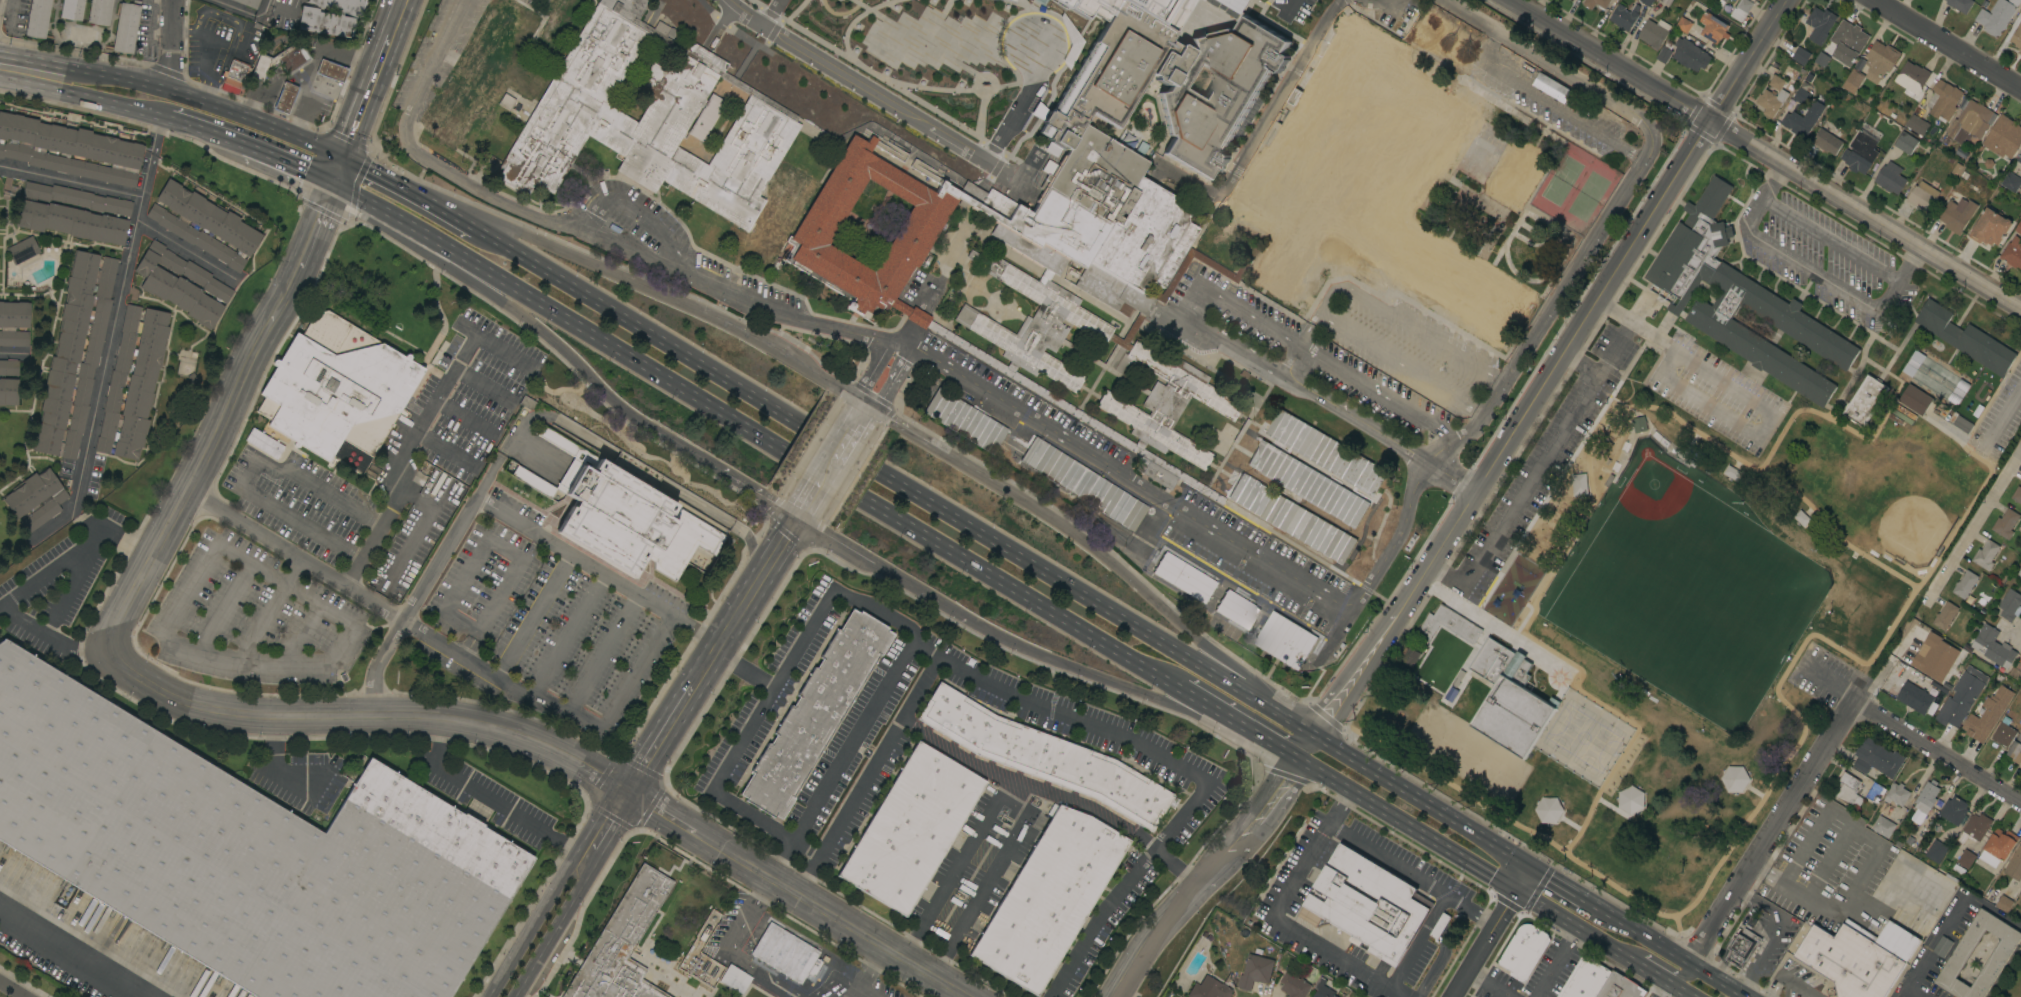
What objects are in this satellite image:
building: (1011, 0)
road: (1380, 0)
building: (1646, 2)
building: (1666, 2)
building: (1721, 2)
building: (249, 3)
building: (1596, 3)
building: (1235, 4)
building: (1960, 5)
building: (1090, 7)
building: (72, 9)
building: (1741, 10)
road: (244, 11)
building: (1157, 11)
building: (100, 12)
road: (747, 12)
road: (773, 12)
road: (400, 13)
building: (561, 13)
building: (1383, 16)
building: (1624, 16)
building: (1996, 16)
parking lot: (14, 17)
building: (330, 17)
building: (38, 18)
road: (721, 24)
building: (1683, 24)
building: (1819, 24)
building: (126, 27)
building: (1713, 27)
parking lot: (146, 31)
building: (1653, 33)
building: (2016, 38)
building: (1442, 39)
parking lot: (210, 41)
building: (1848, 42)
road: (1948, 43)
road: (176, 47)
building: (793, 52)
building: (1664, 52)
building: (1690, 54)
building: (1800, 55)
building: (291, 57)
building: (1881, 58)
building: (1822, 59)
building: (963, 61)
building: (261, 67)
road: (430, 67)
road: (1552, 67)
building: (329, 69)
road: (27, 72)
building: (234, 75)
gas station: (298, 76)
building: (1911, 78)
building: (1852, 80)
building: (1776, 82)
road: (369, 91)
road: (1532, 93)
building: (794, 94)
building: (285, 95)
building: (1800, 96)
building: (1943, 100)
road: (111, 101)
building: (508, 101)
road: (201, 102)
building: (1771, 102)
building: (833, 111)
building: (1803, 119)
building: (1970, 122)
building: (1917, 124)
road: (1258, 126)
building: (829, 127)
road: (205, 130)
road: (934, 130)
building: (2004, 137)
building: (1827, 138)
building: (1905, 143)
building: (69, 150)
road: (1625, 151)
building: (1860, 152)
building: (1960, 153)
road: (150, 155)
road: (1765, 156)
traffic signals: (343, 157)
building: (2019, 159)
road: (287, 161)
building: (1988, 163)
building: (1956, 169)
building: (1518, 172)
building: (798, 177)
building: (1890, 178)
traffic signals: (335, 180)
road: (71, 182)
road: (392, 182)
building: (2011, 182)
building: (1923, 197)
road: (373, 203)
building: (74, 213)
road: (636, 214)
building: (1957, 214)
building: (204, 225)
road: (314, 225)
building: (1990, 227)
building: (2018, 228)
road: (1830, 239)
road: (1630, 247)
building: (23, 250)
road: (185, 251)
building: (2012, 252)
road: (586, 260)
road: (1809, 271)
building: (1451, 277)
building: (182, 284)
road: (1563, 288)
road: (1325, 298)
building: (1741, 301)
road: (1240, 309)
building: (14, 323)
road: (1312, 331)
road: (549, 338)
building: (1965, 338)
road: (906, 343)
road: (1240, 351)
road: (12, 354)
building: (76, 354)
parking lot: (542, 355)
road: (105, 357)
road: (799, 362)
road: (904, 362)
building: (1913, 363)
road: (1580, 365)
building: (9, 367)
road: (1300, 367)
road: (872, 372)
building: (133, 381)
road: (483, 383)
building: (1958, 390)
building: (8, 391)
building: (337, 391)
road: (1383, 394)
road: (884, 396)
building: (1915, 399)
building: (1864, 401)
building: (528, 402)
road: (1756, 405)
road: (867, 410)
road: (466, 414)
road: (2003, 414)
building: (1638, 424)
building: (1962, 424)
road: (849, 437)
road: (1385, 437)
building: (262, 443)
road: (933, 443)
road: (446, 449)
building: (1325, 452)
road: (795, 457)
road: (859, 460)
parking lot: (1542, 460)
road: (1536, 470)
road: (828, 471)
road: (418, 480)
building: (1079, 482)
building: (1307, 483)
road: (742, 485)
park: (1653, 487)
road: (1166, 491)
building: (2017, 495)
building: (36, 499)
road: (809, 501)
road: (360, 511)
building: (625, 511)
road: (1975, 522)
building: (2005, 523)
building: (1381, 529)
road: (1831, 531)
park: (1908, 532)
road: (537, 534)
road: (1398, 534)
road: (410, 538)
road: (371, 540)
road: (841, 544)
road: (498, 545)
road: (1513, 548)
road: (73, 551)
road: (294, 554)
building: (1985, 555)
parking lot: (409, 571)
building: (2019, 572)
building: (1183, 577)
road: (72, 580)
road: (1495, 581)
road: (758, 582)
building: (1964, 584)
road: (1143, 589)
park: (1674, 598)
building: (2009, 604)
road: (222, 608)
building: (1236, 609)
road: (1396, 615)
road: (533, 616)
building: (1945, 616)
road: (259, 622)
building: (1447, 625)
park: (1664, 626)
road: (1501, 630)
road: (300, 632)
road: (567, 635)
road: (54, 639)
building: (1284, 640)
road: (927, 647)
building: (1993, 647)
road: (1475, 648)
road: (198, 653)
building: (1920, 653)
road: (601, 654)
building: (1409, 655)
road: (1053, 659)
building: (2020, 659)
road: (118, 660)
road: (1468, 660)
road: (377, 662)
road: (1865, 663)
road: (746, 665)
road: (706, 667)
parking lot: (1821, 674)
road: (1828, 679)
road: (1011, 690)
building: (1914, 697)
building: (1509, 699)
building: (1959, 700)
road: (1208, 706)
road: (558, 709)
building: (815, 713)
building: (1987, 714)
road: (1296, 725)
road: (1245, 728)
park: (1569, 728)
building: (2004, 733)
road: (661, 739)
road: (1285, 740)
road: (850, 745)
road: (1276, 747)
park: (1598, 747)
building: (2015, 750)
road: (1936, 752)
park: (1467, 753)
building: (1044, 756)
road: (571, 757)
building: (1876, 759)
road: (1028, 787)
road: (1459, 789)
building: (1848, 790)
road: (1013, 791)
building: (1875, 792)
building: (1896, 794)
building: (1926, 797)
road: (1420, 802)
road: (1337, 809)
building: (1885, 809)
building: (1953, 810)
road: (668, 813)
road: (1262, 813)
road: (514, 814)
road: (1406, 825)
building: (1926, 825)
building: (1883, 827)
road: (604, 828)
building: (1974, 828)
building: (910, 829)
road: (1770, 833)
road: (1878, 843)
building: (1997, 847)
building: (1936, 851)
building: (245, 853)
building: (1965, 859)
road: (1385, 861)
building: (2014, 865)
road: (951, 867)
parking lot: (1830, 870)
road: (1766, 873)
road: (1520, 878)
road: (984, 884)
road: (1561, 888)
building: (1048, 898)
building: (2003, 903)
building: (1367, 904)
road: (1504, 907)
road: (1546, 909)
road: (1469, 910)
road: (1102, 913)
road: (836, 917)
building: (2020, 920)
road: (1284, 925)
road: (1164, 926)
building: (1439, 926)
road: (531, 927)
road: (554, 932)
road: (1775, 932)
road: (1417, 942)
building: (622, 943)
road: (1606, 945)
building: (1942, 946)
parking lot: (1936, 947)
building: (1742, 948)
road: (1929, 950)
building: (1524, 951)
road: (71, 952)
road: (729, 952)
building: (785, 952)
road: (1668, 953)
building: (1858, 957)
building: (1958, 958)
building: (718, 959)
road: (1472, 960)
road: (1557, 963)
building: (702, 969)
road: (869, 972)
building: (1255, 972)
road: (1654, 973)
building: (735, 979)
building: (1585, 979)
road: (842, 980)
road: (1788, 981)
building: (1298, 983)
road: (1487, 984)
building: (1620, 987)
road: (13, 988)
road: (1660, 988)
building: (1209, 989)
building: (1322, 989)
road: (1683, 991)
road: (1395, 993)
building: (1286, 996)

